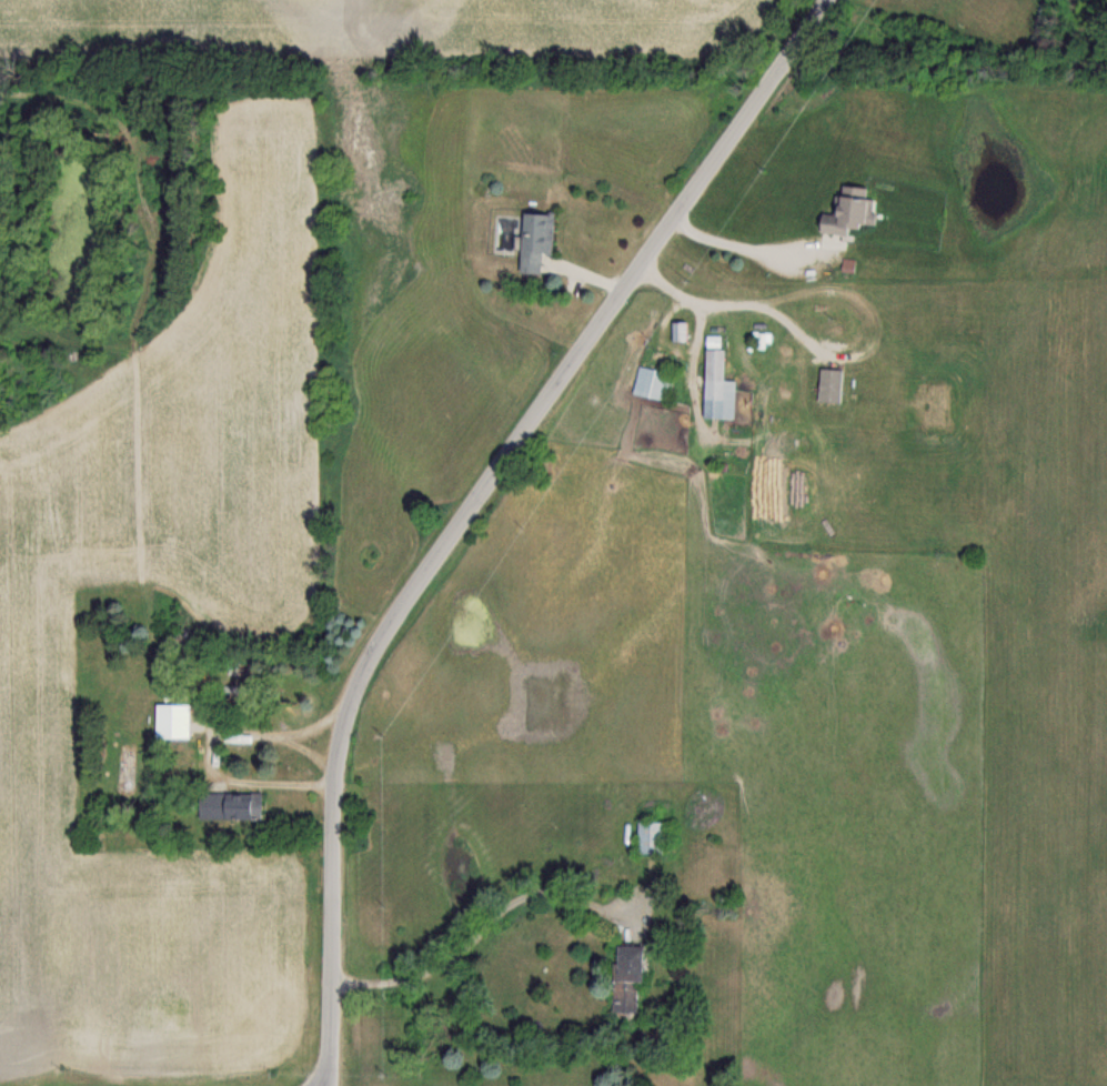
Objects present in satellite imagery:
building: (843, 215)
building: (533, 240)
road: (744, 248)
road: (741, 301)
building: (678, 331)
building: (654, 383)
building: (826, 385)
building: (715, 388)
road: (476, 505)
building: (170, 722)
road: (207, 744)
road: (311, 757)
building: (229, 806)
building: (651, 837)
road: (472, 928)
building: (624, 977)

